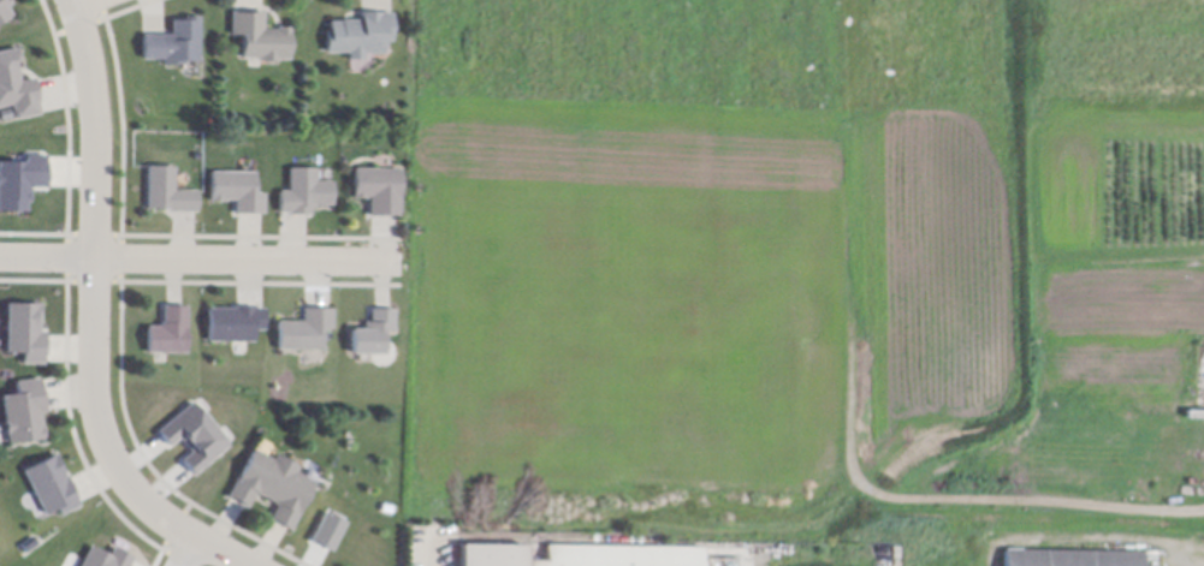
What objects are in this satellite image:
road: (89, 4)
building: (5, 12)
building: (362, 35)
building: (261, 38)
building: (178, 47)
building: (16, 90)
building: (168, 193)
building: (238, 193)
building: (379, 193)
building: (306, 195)
road: (209, 261)
road: (94, 317)
building: (235, 317)
building: (306, 324)
building: (170, 326)
building: (374, 326)
building: (25, 330)
building: (24, 405)
road: (1203, 413)
road: (852, 416)
building: (274, 482)
building: (49, 487)
road: (189, 552)
building: (580, 553)
building: (1070, 554)

